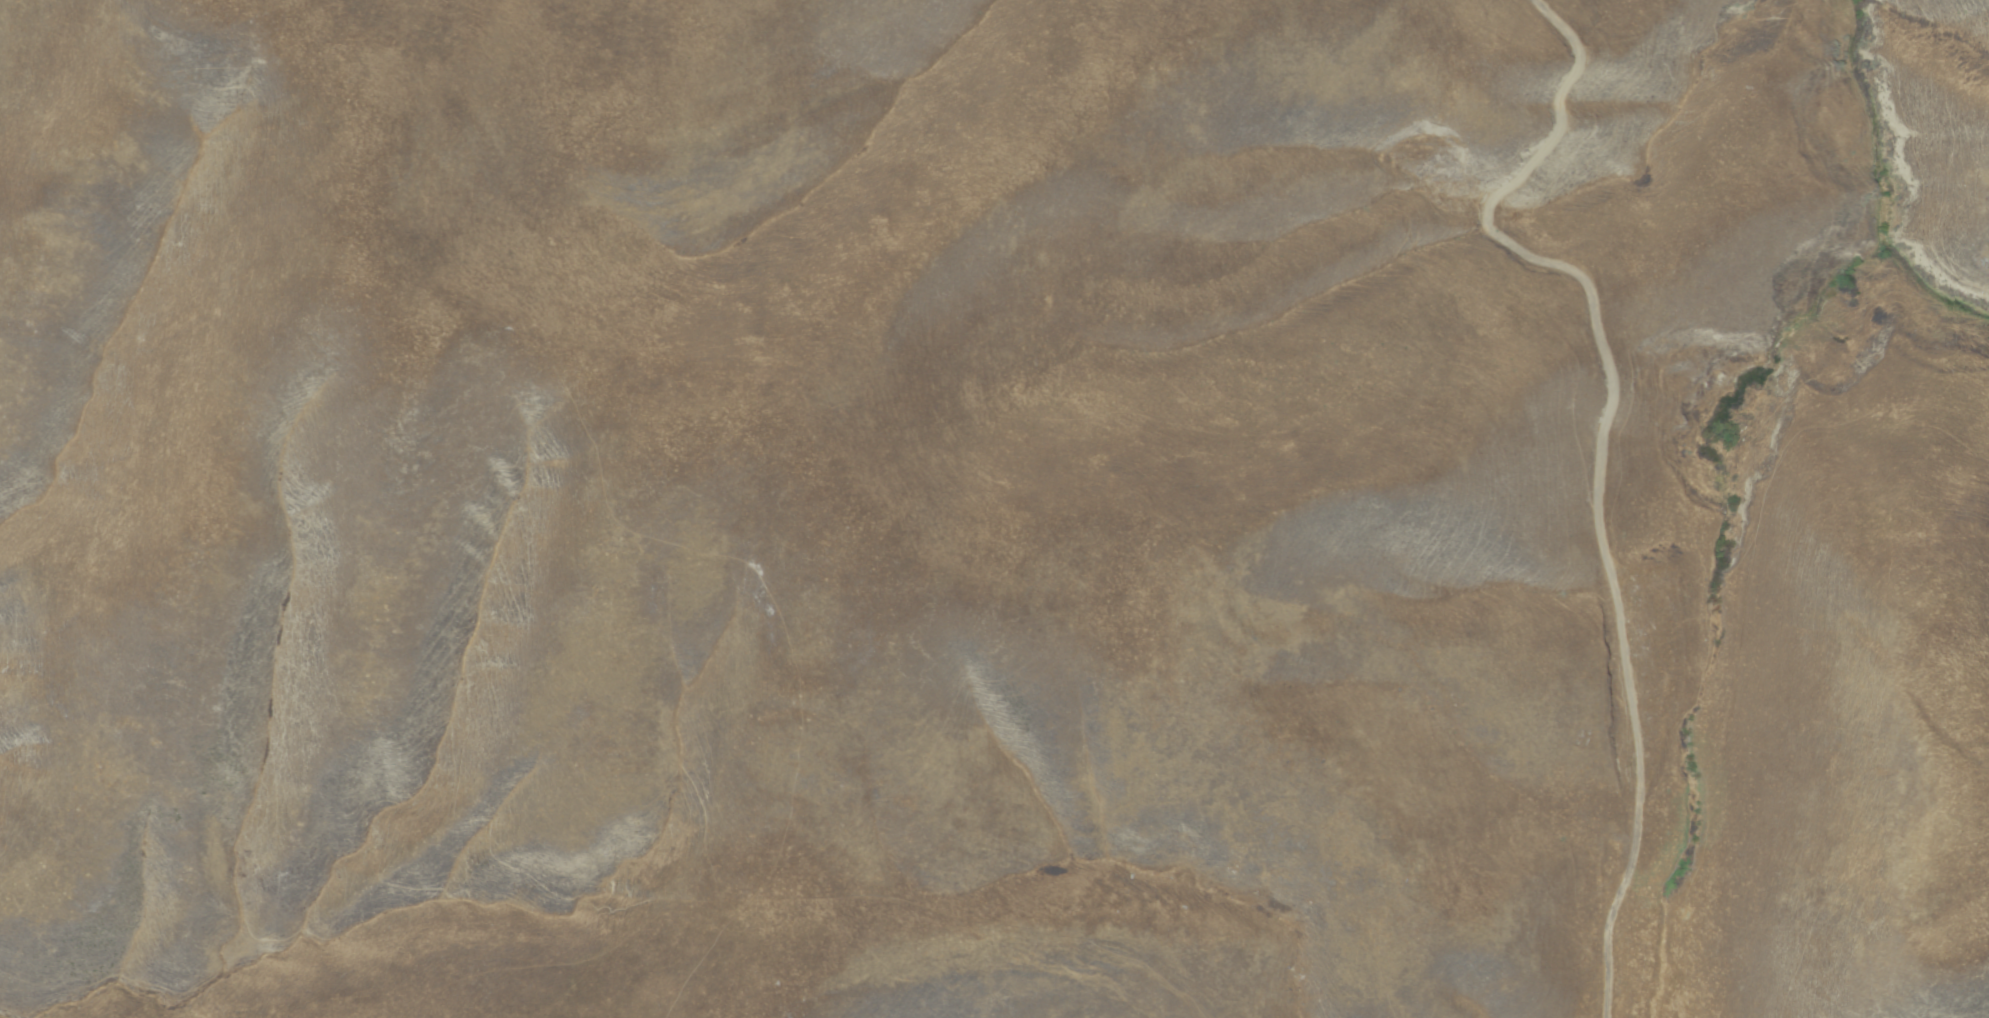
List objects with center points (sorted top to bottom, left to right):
road: (1627, 508)

